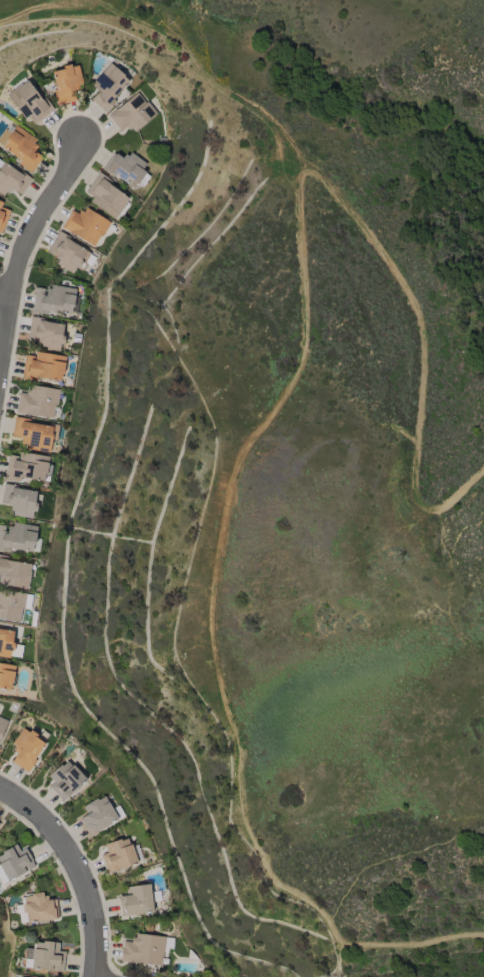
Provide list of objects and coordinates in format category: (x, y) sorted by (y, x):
building: (66, 83)
building: (107, 86)
building: (28, 102)
building: (132, 113)
building: (20, 147)
building: (125, 168)
building: (12, 179)
building: (106, 197)
building: (0, 204)
building: (3, 217)
building: (86, 225)
road: (28, 239)
building: (68, 254)
road: (5, 297)
building: (53, 300)
building: (44, 333)
road: (301, 356)
building: (42, 366)
building: (37, 401)
building: (34, 433)
building: (28, 467)
building: (19, 500)
building: (19, 537)
building: (14, 573)
building: (13, 604)
building: (5, 643)
building: (6, 676)
building: (2, 724)
building: (26, 749)
building: (65, 780)
building: (99, 814)
building: (120, 855)
building: (13, 863)
road: (74, 870)
building: (137, 900)
building: (36, 908)
road: (410, 946)
building: (146, 949)
building: (44, 957)
road: (337, 960)

